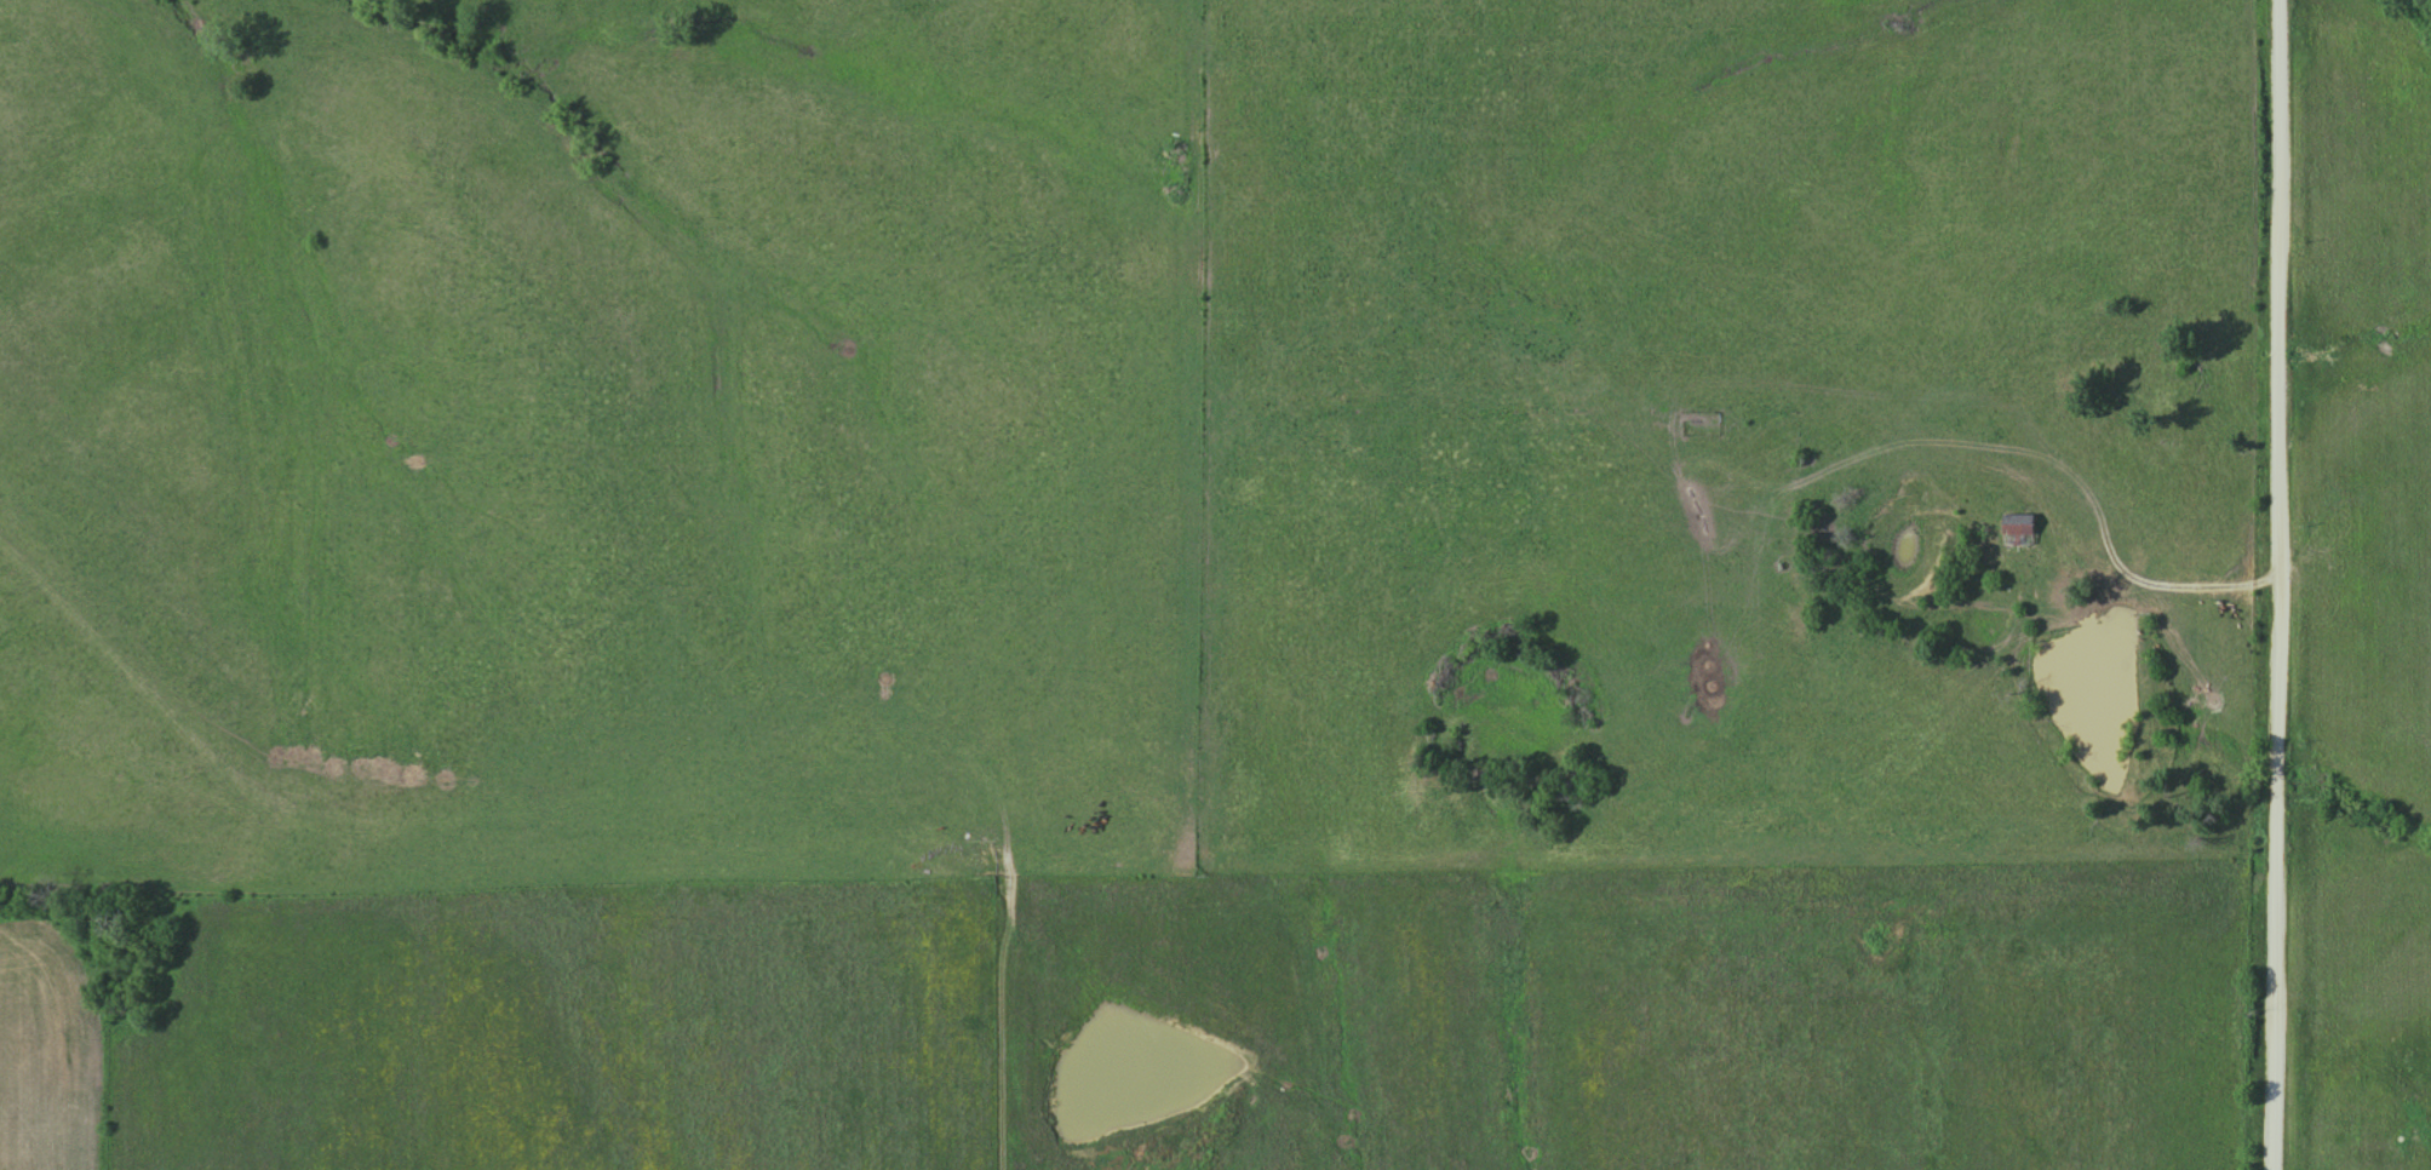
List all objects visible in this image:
building: (2020, 530)
road: (2277, 585)

